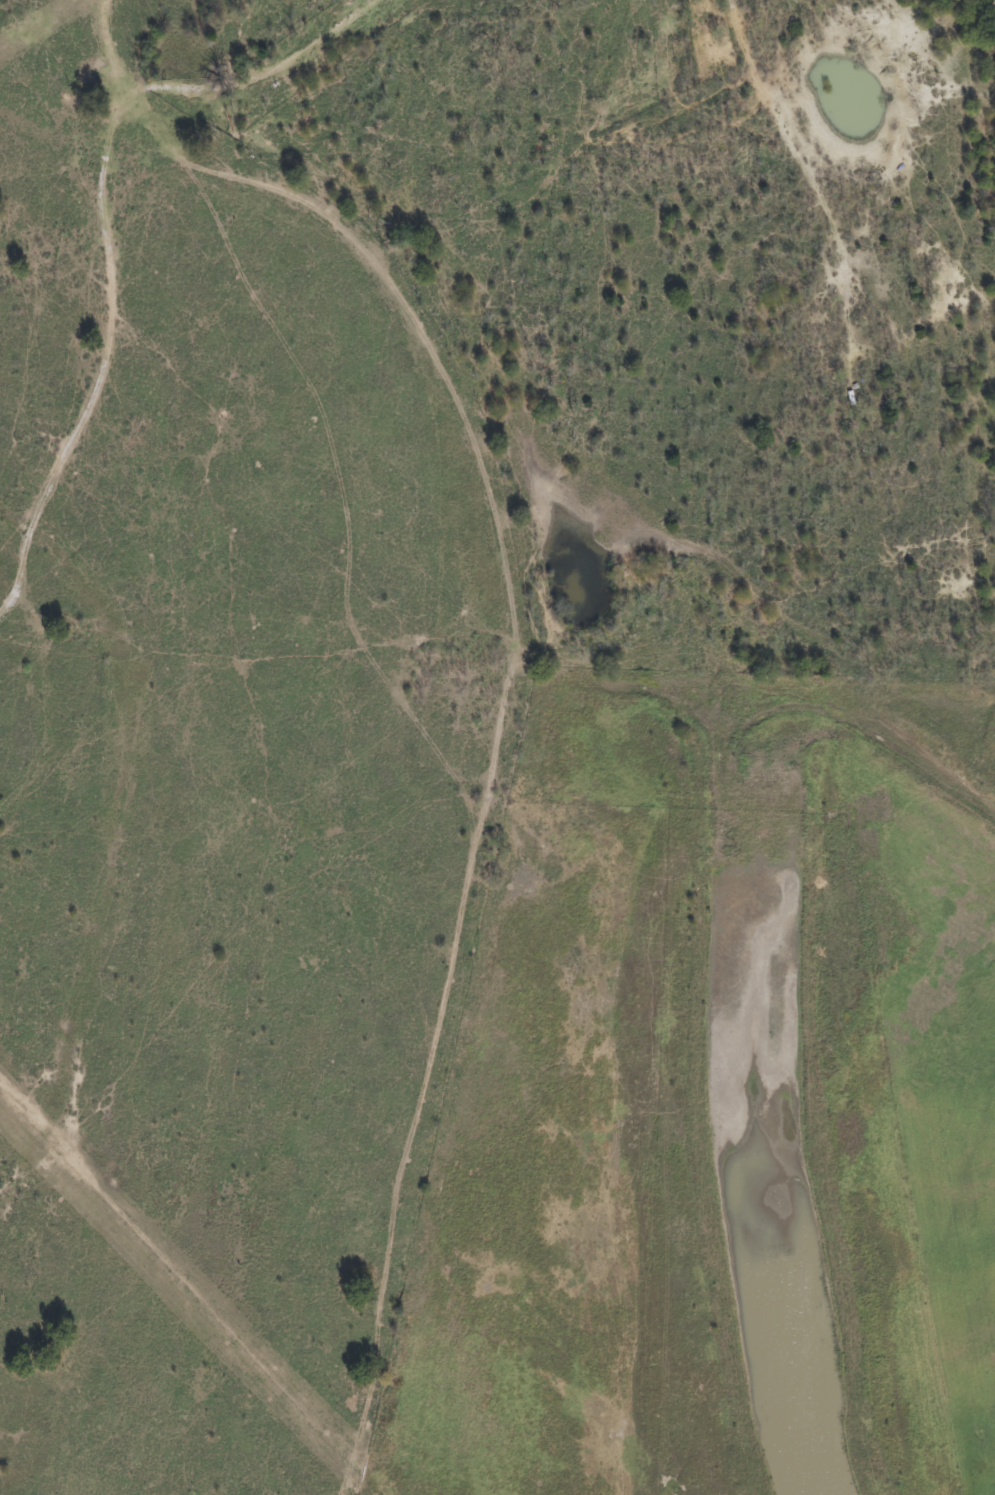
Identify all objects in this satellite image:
road: (111, 205)
road: (164, 649)

